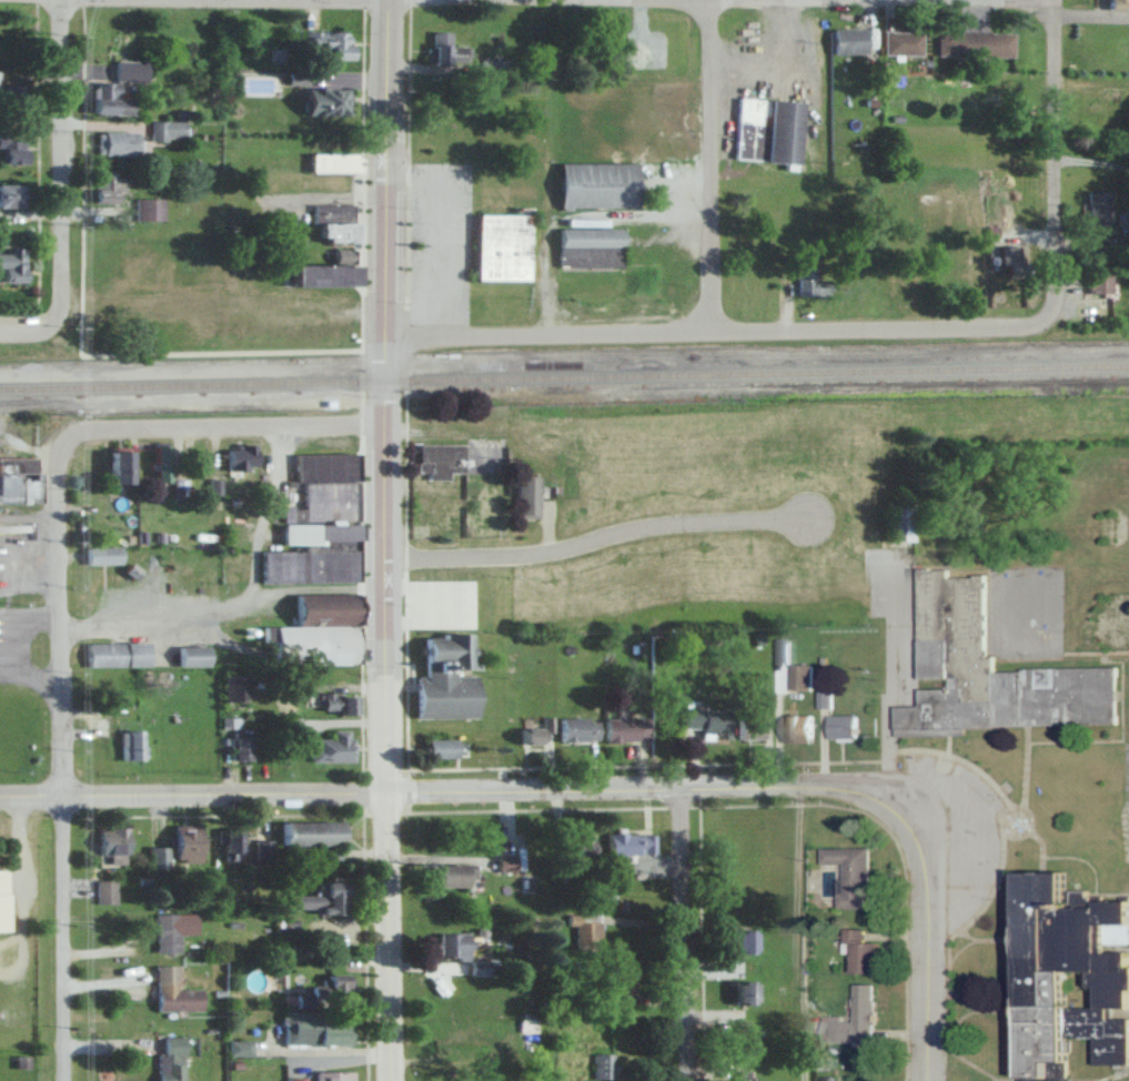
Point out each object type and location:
road: (385, 0)
road: (412, 0)
road: (950, 1)
building: (1118, 3)
building: (855, 40)
building: (908, 42)
building: (980, 42)
building: (326, 46)
building: (444, 48)
building: (129, 70)
building: (295, 77)
building: (6, 94)
building: (107, 101)
building: (317, 101)
building: (433, 111)
building: (637, 112)
building: (165, 130)
building: (772, 130)
building: (112, 143)
building: (11, 148)
road: (57, 156)
road: (1059, 159)
road: (1095, 159)
building: (327, 162)
road: (703, 165)
building: (597, 184)
building: (103, 185)
building: (6, 195)
building: (147, 209)
building: (1105, 211)
building: (332, 222)
road: (445, 245)
building: (502, 246)
building: (589, 246)
building: (1015, 261)
building: (10, 265)
building: (314, 275)
building: (1106, 279)
building: (810, 283)
road: (871, 327)
road: (30, 330)
road: (540, 335)
railway: (564, 376)
road: (206, 425)
building: (240, 456)
building: (441, 459)
building: (160, 463)
building: (118, 466)
building: (19, 479)
building: (322, 484)
building: (215, 486)
building: (180, 488)
building: (528, 496)
building: (901, 522)
road: (595, 537)
road: (381, 540)
building: (312, 554)
building: (102, 555)
road: (239, 600)
road: (59, 629)
building: (317, 632)
building: (115, 653)
building: (192, 655)
building: (985, 671)
building: (802, 675)
building: (445, 677)
building: (826, 697)
building: (336, 703)
building: (706, 723)
building: (843, 725)
building: (748, 727)
building: (798, 727)
building: (576, 728)
building: (624, 728)
building: (533, 730)
building: (128, 745)
building: (235, 746)
building: (331, 747)
building: (437, 748)
road: (592, 787)
building: (305, 831)
building: (626, 842)
building: (109, 843)
building: (228, 845)
building: (174, 846)
building: (574, 847)
building: (262, 848)
building: (503, 863)
building: (853, 872)
building: (448, 873)
building: (102, 891)
building: (1, 898)
building: (319, 898)
building: (582, 930)
building: (162, 932)
road: (797, 932)
road: (677, 933)
road: (59, 937)
building: (302, 939)
building: (737, 940)
building: (448, 944)
building: (864, 950)
building: (1066, 974)
building: (609, 980)
building: (314, 986)
building: (168, 991)
building: (737, 991)
building: (857, 1019)
building: (310, 1028)
building: (738, 1042)
building: (234, 1049)
building: (167, 1058)
road: (960, 1063)
building: (596, 1065)
building: (326, 1075)
building: (827, 1078)
building: (291, 1079)

